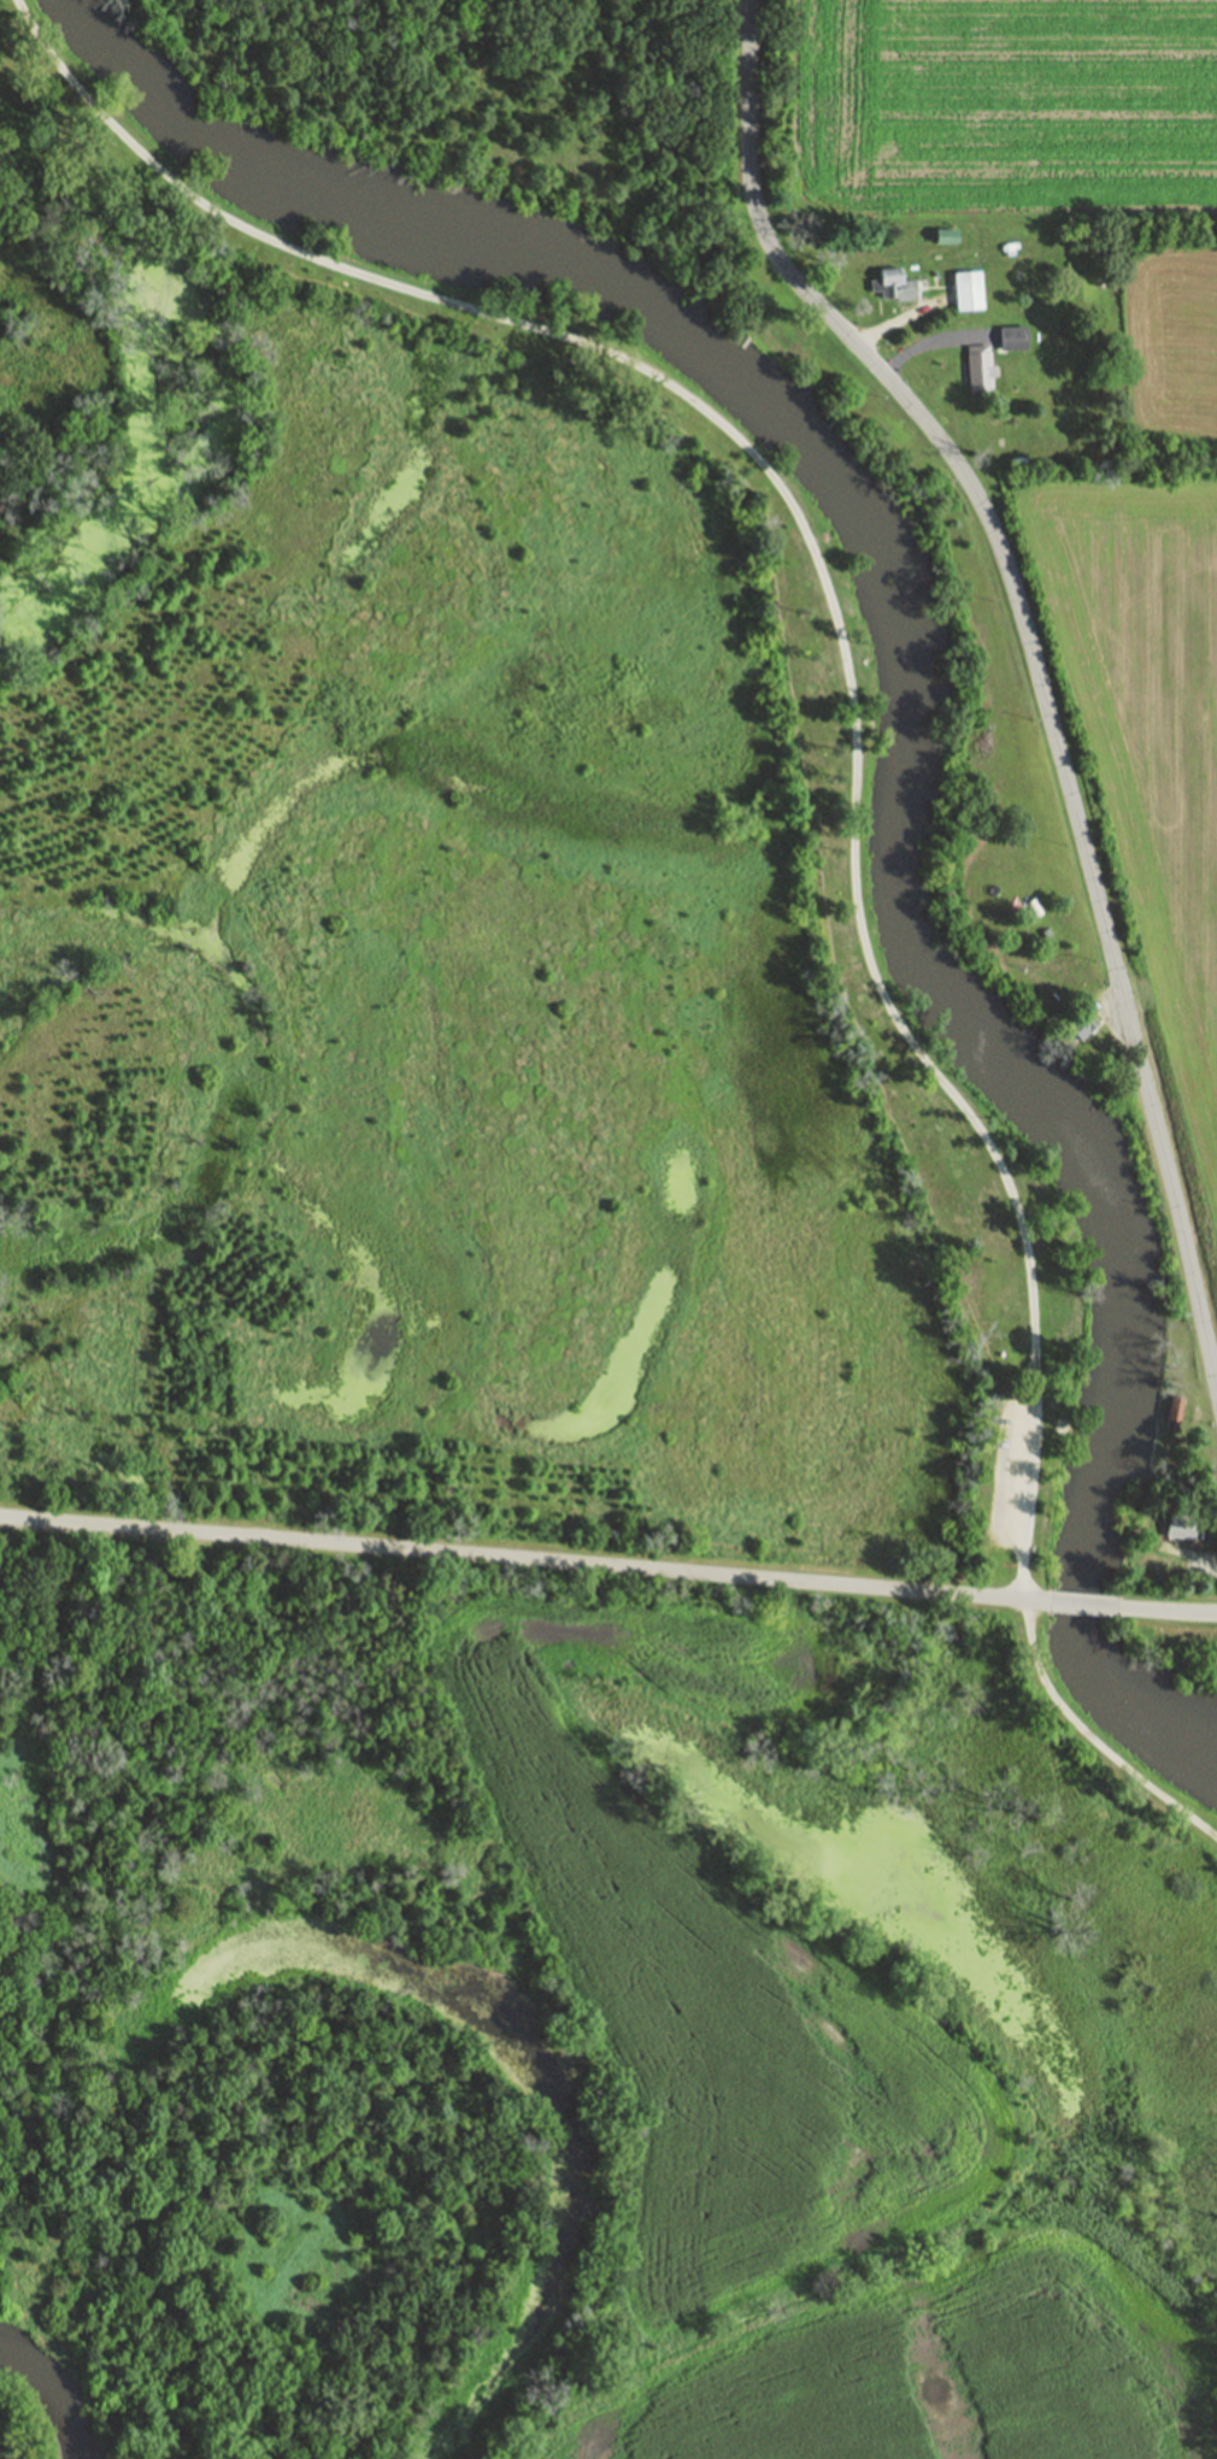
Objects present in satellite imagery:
building: (893, 284)
building: (966, 290)
road: (896, 320)
building: (1012, 337)
road: (927, 343)
building: (978, 367)
road: (1035, 665)
river: (918, 714)
road: (863, 757)
building: (1078, 1020)
building: (1181, 1364)
building: (1175, 1411)
building: (1181, 1528)
road: (1184, 1554)
road: (523, 1564)
road: (1082, 1606)
road: (1166, 1610)
river: (46, 2408)

